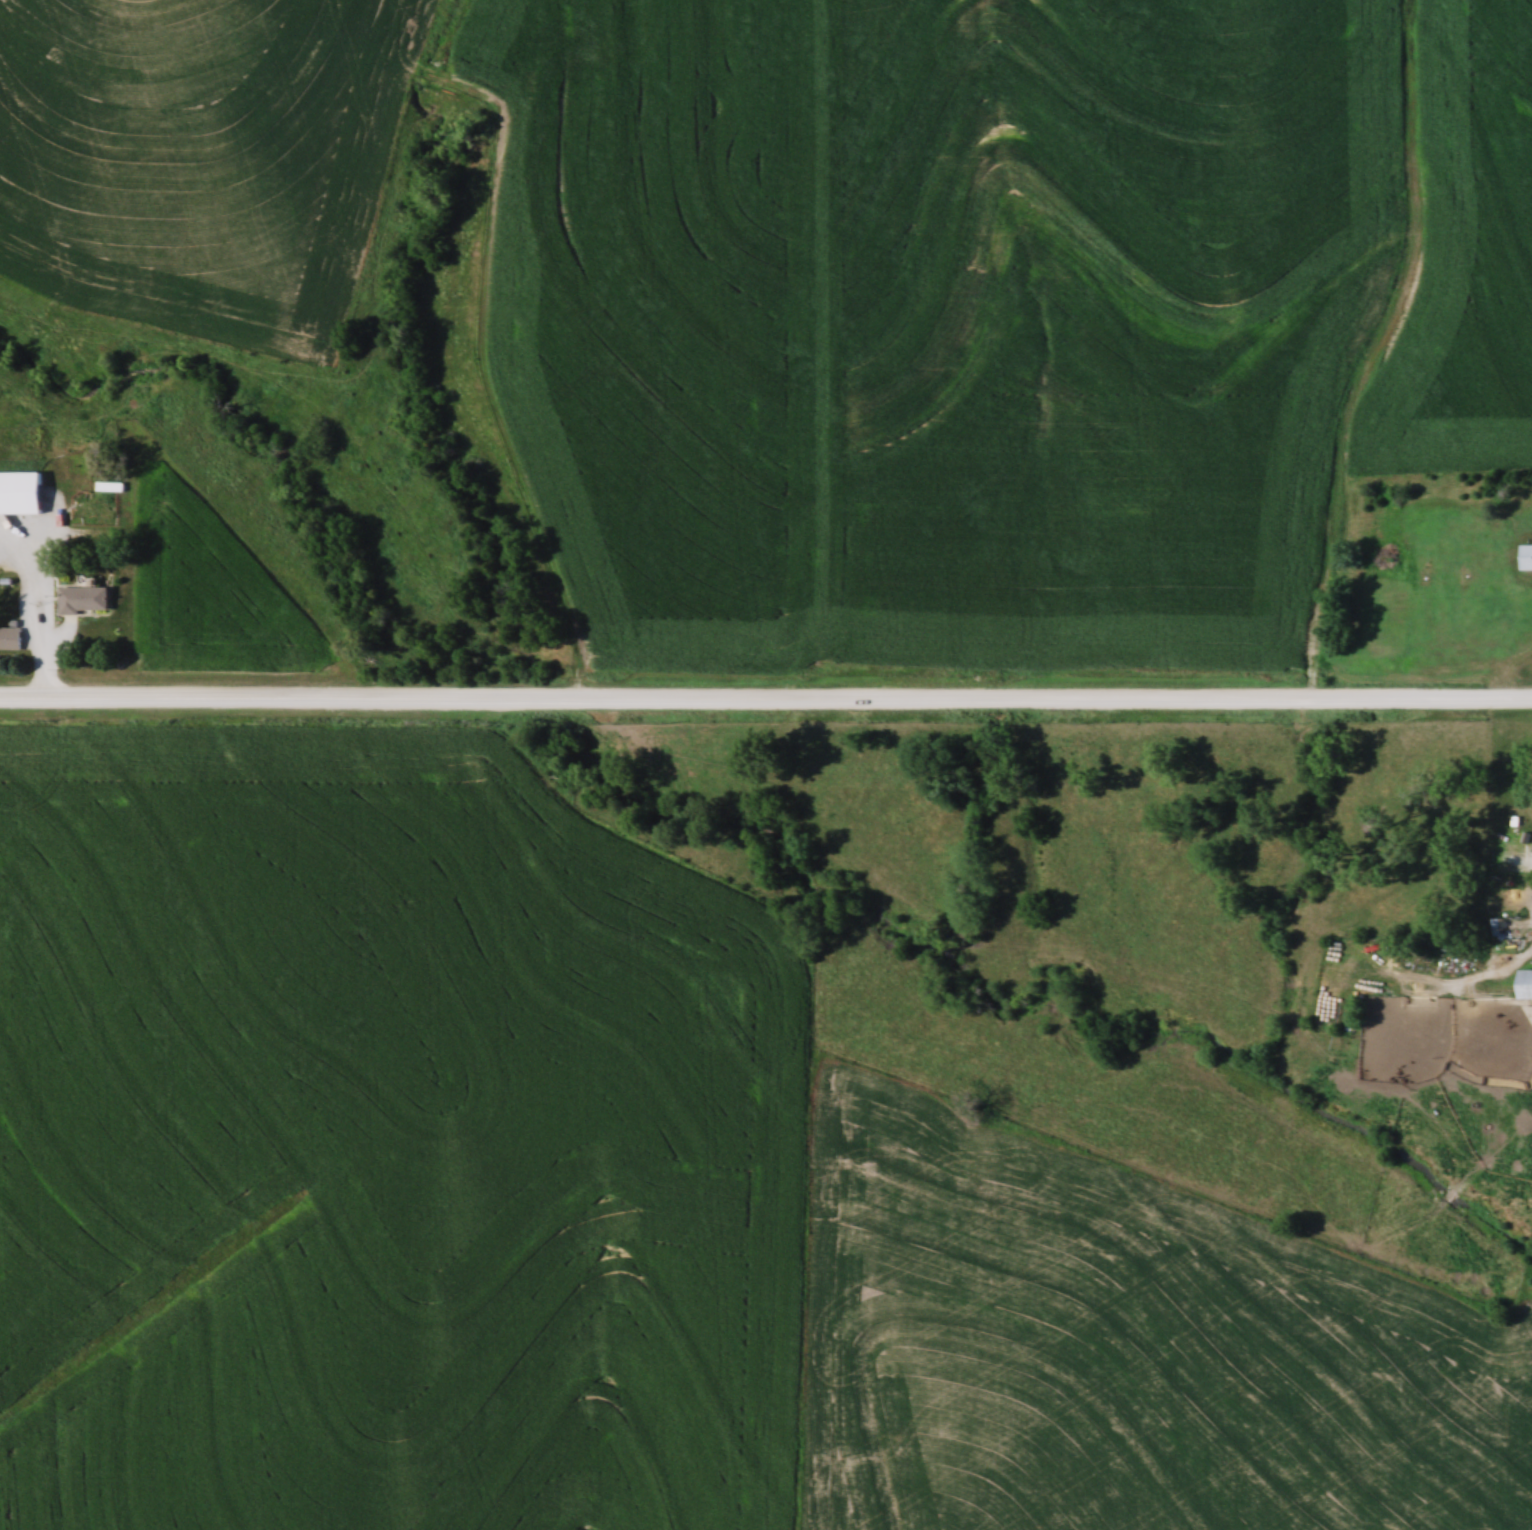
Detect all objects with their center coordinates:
building: (110, 487)
building: (22, 493)
building: (1527, 557)
building: (85, 600)
road: (30, 616)
building: (11, 639)
road: (765, 702)
building: (1512, 930)
building: (1528, 986)

